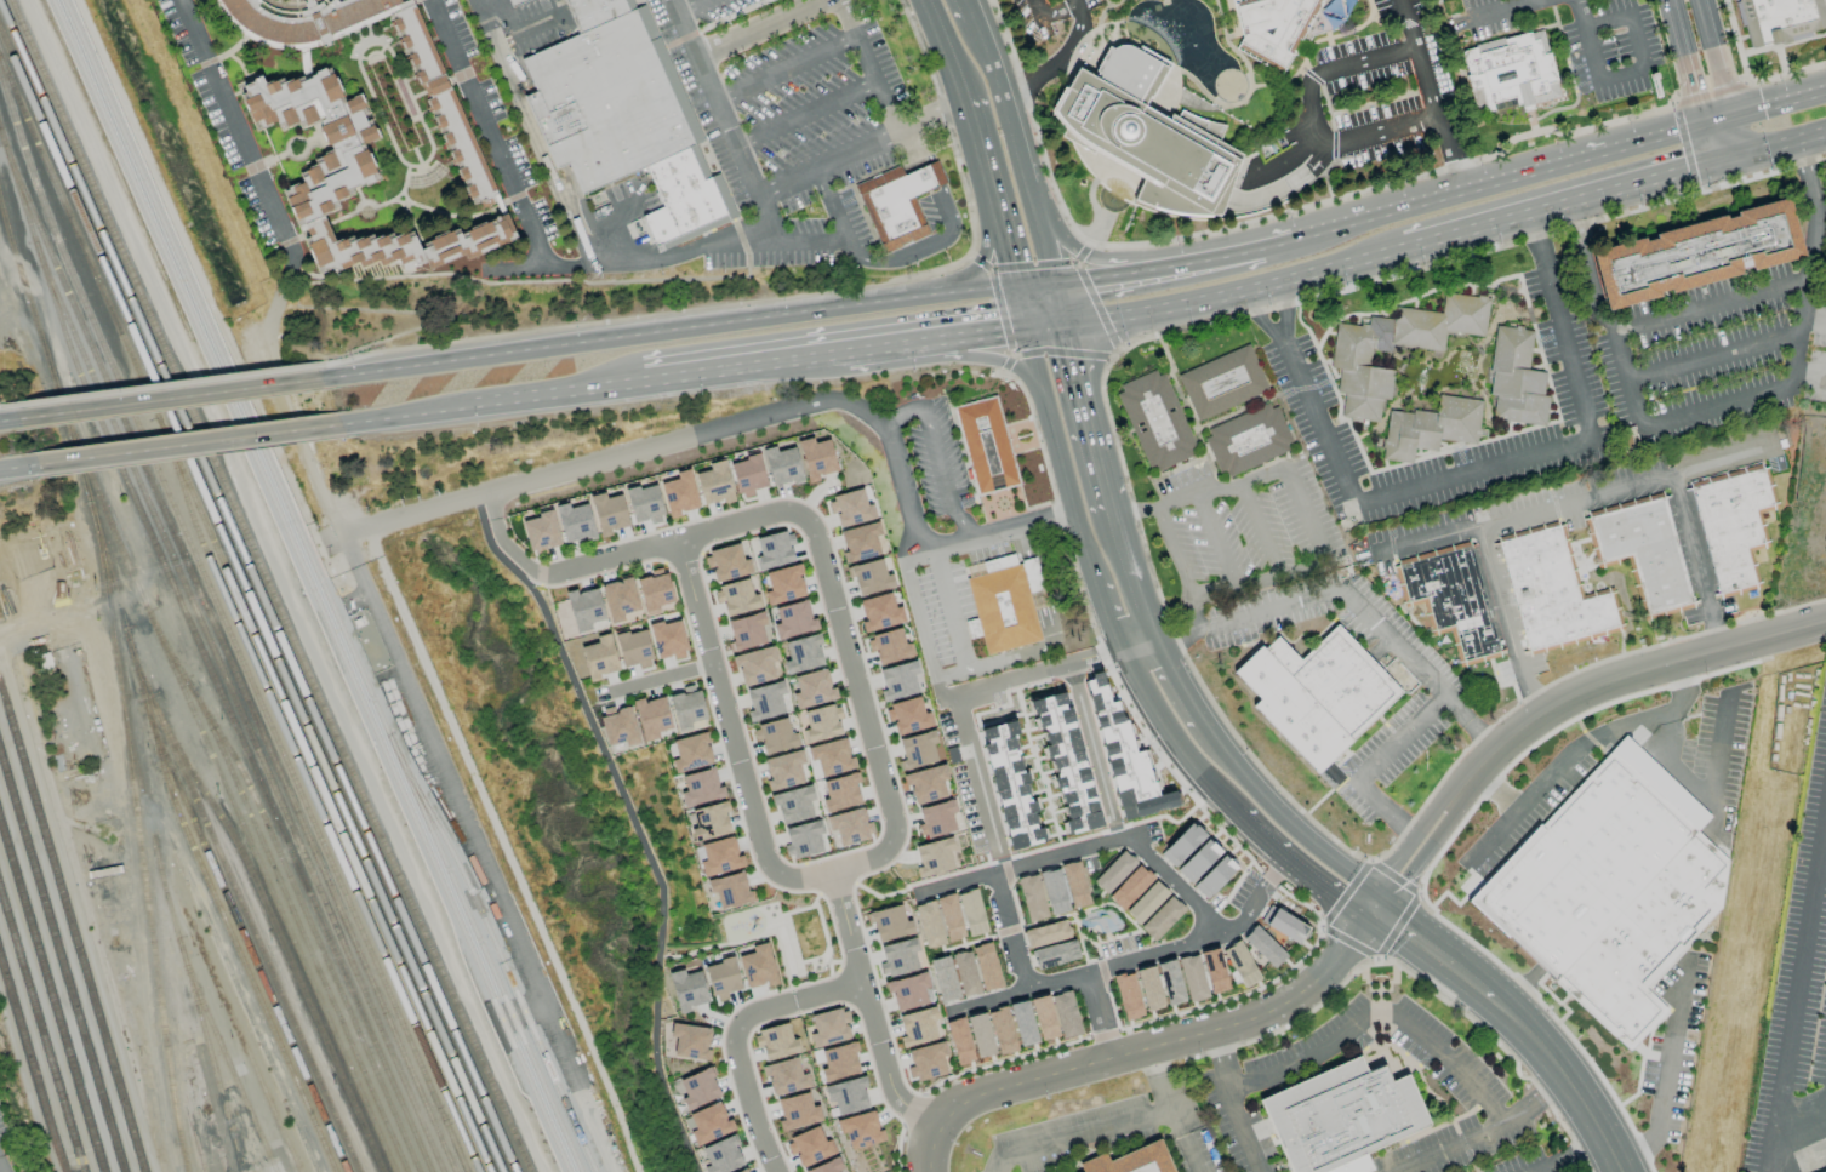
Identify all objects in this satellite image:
road: (1527, 1)
road: (1531, 1)
building: (515, 2)
road: (1072, 2)
road: (1237, 2)
road: (1109, 4)
road: (1038, 8)
road: (695, 10)
road: (965, 10)
road: (1058, 11)
road: (1489, 13)
road: (1579, 13)
road: (1231, 17)
road: (1220, 18)
building: (1780, 19)
road: (759, 29)
building: (1274, 29)
road: (1094, 34)
road: (1077, 47)
road: (1126, 47)
road: (945, 48)
road: (1239, 56)
road: (1700, 58)
road: (1057, 64)
road: (1643, 64)
road: (783, 72)
building: (1513, 75)
road: (1746, 79)
road: (1426, 95)
road: (1771, 102)
road: (1237, 104)
road: (1314, 116)
road: (804, 118)
traffic signals: (1718, 118)
building: (626, 119)
road: (1006, 119)
road: (934, 121)
building: (447, 122)
road: (1699, 122)
road: (533, 131)
road: (489, 133)
building: (1153, 136)
road: (239, 139)
road: (895, 139)
road: (1724, 139)
road: (1778, 147)
road: (1570, 158)
road: (1290, 160)
traffic signals: (1730, 161)
building: (349, 178)
road: (1393, 183)
road: (1288, 188)
road: (995, 191)
road: (1092, 199)
road: (1411, 204)
road: (1567, 205)
building: (903, 208)
road: (758, 212)
road: (1326, 231)
road: (1209, 235)
road: (1278, 245)
road: (850, 246)
road: (986, 252)
road: (1048, 252)
building: (1695, 253)
road: (1231, 256)
road: (1112, 264)
road: (527, 268)
road: (1126, 273)
traffic signals: (1056, 285)
road: (1039, 286)
traffic signals: (1022, 288)
road: (788, 298)
road: (1219, 299)
road: (1060, 304)
road: (1710, 305)
road: (1026, 308)
road: (1285, 311)
road: (1602, 316)
road: (1260, 318)
traffic signals: (1065, 324)
traffic signals: (1029, 327)
road: (671, 332)
road: (1797, 337)
road: (835, 354)
road: (951, 358)
road: (1713, 358)
building: (1349, 359)
building: (1514, 378)
building: (1223, 384)
road: (166, 385)
road: (558, 395)
road: (167, 399)
road: (406, 415)
road: (1085, 416)
road: (8, 419)
building: (1154, 421)
building: (1430, 427)
building: (1246, 440)
road: (1054, 441)
road: (188, 445)
building: (992, 445)
building: (816, 458)
building: (781, 465)
road: (1499, 465)
road: (18, 468)
road: (896, 470)
building: (748, 475)
road: (940, 475)
building: (714, 484)
road: (1197, 493)
building: (679, 494)
road: (485, 496)
road: (1573, 501)
building: (644, 504)
building: (849, 508)
building: (609, 514)
building: (575, 522)
building: (1733, 524)
road: (994, 530)
road: (1262, 530)
building: (541, 532)
building: (860, 542)
road: (1214, 542)
building: (774, 550)
building: (1640, 551)
road: (1176, 554)
road: (1695, 561)
building: (726, 562)
road: (1308, 567)
road: (1091, 570)
road: (1130, 574)
building: (871, 577)
building: (783, 584)
railway: (268, 585)
railway: (309, 585)
railway: (320, 585)
railway: (256, 588)
building: (1553, 590)
building: (637, 596)
building: (736, 598)
building: (1449, 598)
railway: (250, 602)
building: (1009, 604)
building: (584, 608)
building: (879, 612)
road: (1200, 614)
railway: (244, 617)
road: (1109, 618)
building: (793, 619)
road: (1506, 619)
road: (1234, 623)
road: (1045, 627)
railway: (226, 628)
building: (746, 631)
building: (667, 639)
building: (888, 646)
building: (633, 648)
building: (803, 654)
building: (599, 657)
railway: (202, 658)
railway: (227, 658)
building: (754, 665)
road: (1069, 665)
road: (1422, 669)
road: (942, 676)
railway: (118, 678)
road: (658, 678)
building: (898, 680)
road: (1174, 680)
road: (1596, 684)
building: (812, 688)
building: (1318, 693)
building: (765, 701)
railway: (235, 705)
building: (686, 707)
road: (1157, 714)
building: (907, 715)
building: (651, 716)
road: (1659, 718)
building: (820, 724)
road: (868, 726)
building: (618, 728)
building: (774, 736)
road: (1092, 736)
road: (970, 747)
building: (917, 749)
building: (691, 753)
building: (1124, 754)
building: (831, 756)
building: (1066, 762)
road: (1373, 768)
building: (783, 770)
road: (1552, 774)
building: (926, 783)
building: (700, 788)
building: (1011, 788)
road: (1494, 788)
railway: (226, 790)
road: (1216, 791)
building: (840, 793)
road: (1707, 795)
railway: (312, 796)
building: (793, 804)
road: (1283, 816)
building: (936, 819)
building: (709, 822)
building: (850, 827)
road: (1495, 834)
building: (803, 840)
railway: (212, 841)
building: (1182, 845)
road: (480, 850)
road: (1086, 850)
building: (719, 857)
building: (934, 857)
road: (1004, 863)
building: (1206, 868)
road: (1297, 868)
road: (1269, 871)
building: (1113, 873)
road: (1397, 874)
building: (1074, 885)
railway: (292, 886)
building: (1129, 887)
building: (729, 890)
building: (1609, 890)
building: (1052, 892)
building: (1032, 898)
building: (1146, 902)
railway: (216, 905)
traffic signals: (1371, 909)
building: (971, 913)
building: (949, 917)
building: (1162, 917)
railway: (297, 924)
building: (890, 924)
building: (1283, 924)
building: (929, 925)
railway: (274, 928)
road: (846, 928)
railway: (70, 931)
road: (1009, 932)
building: (1045, 933)
railway: (177, 934)
railway: (241, 936)
road: (1185, 945)
building: (1263, 947)
railway: (496, 949)
road: (1434, 953)
building: (1055, 954)
building: (897, 957)
railway: (61, 964)
building: (1239, 965)
building: (758, 966)
building: (986, 966)
building: (1214, 970)
building: (965, 973)
building: (721, 978)
building: (943, 978)
building: (1192, 978)
building: (1170, 982)
road: (1793, 984)
building: (1148, 988)
building: (687, 989)
building: (908, 991)
road: (1023, 991)
building: (1128, 996)
road: (798, 997)
railway: (51, 999)
road: (1377, 1011)
building: (1065, 1014)
road: (1100, 1014)
building: (1043, 1017)
building: (1022, 1023)
building: (918, 1027)
building: (831, 1028)
building: (1002, 1030)
railway: (40, 1035)
building: (980, 1035)
building: (692, 1041)
building: (959, 1041)
building: (777, 1042)
road: (1146, 1046)
railway: (224, 1056)
railway: (247, 1056)
road: (1671, 1057)
building: (840, 1062)
building: (926, 1062)
railway: (30, 1068)
building: (786, 1076)
road: (1160, 1079)
road: (1565, 1080)
building: (700, 1090)
building: (849, 1096)
road: (1231, 1103)
road: (1537, 1104)
building: (798, 1111)
building: (1348, 1119)
building: (711, 1124)
railway: (212, 1125)
road: (1797, 1127)
building: (862, 1130)
road: (1082, 1136)
railway: (194, 1137)
building: (810, 1147)
road: (1451, 1148)
road: (1634, 1150)
building: (724, 1156)
road: (1193, 1156)
road: (1570, 1156)
building: (1146, 1161)
building: (829, 1166)
road: (1, 1168)
building: (746, 1171)
building: (1824, 1171)

